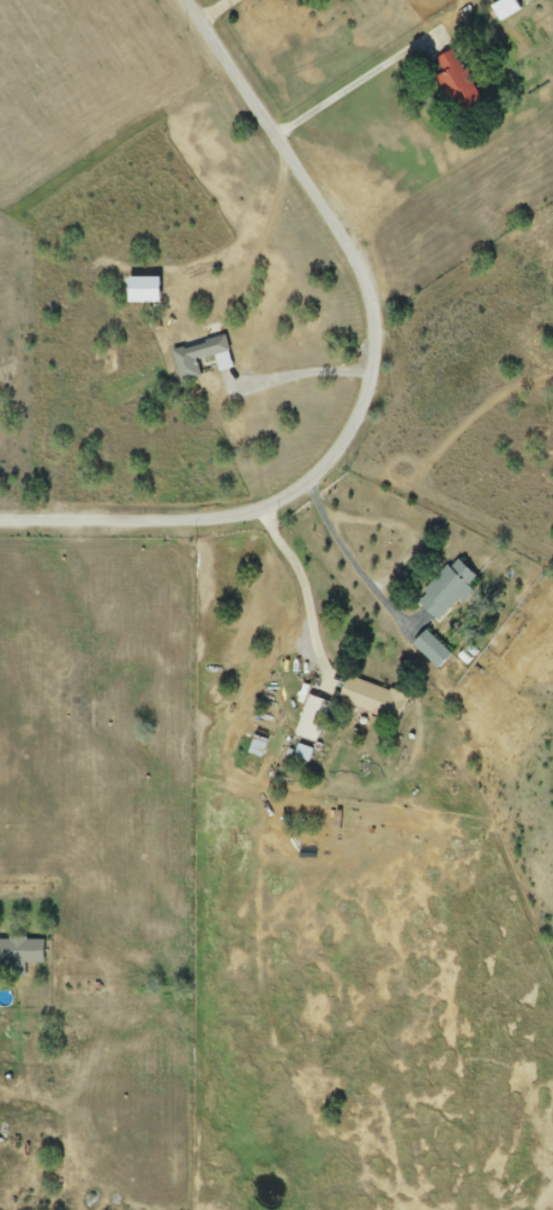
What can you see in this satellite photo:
building: (505, 8)
road: (214, 10)
building: (455, 84)
road: (359, 88)
building: (196, 358)
road: (297, 376)
road: (373, 386)
road: (353, 562)
building: (446, 590)
road: (307, 594)
building: (431, 650)
building: (372, 699)
building: (312, 720)
building: (22, 953)

